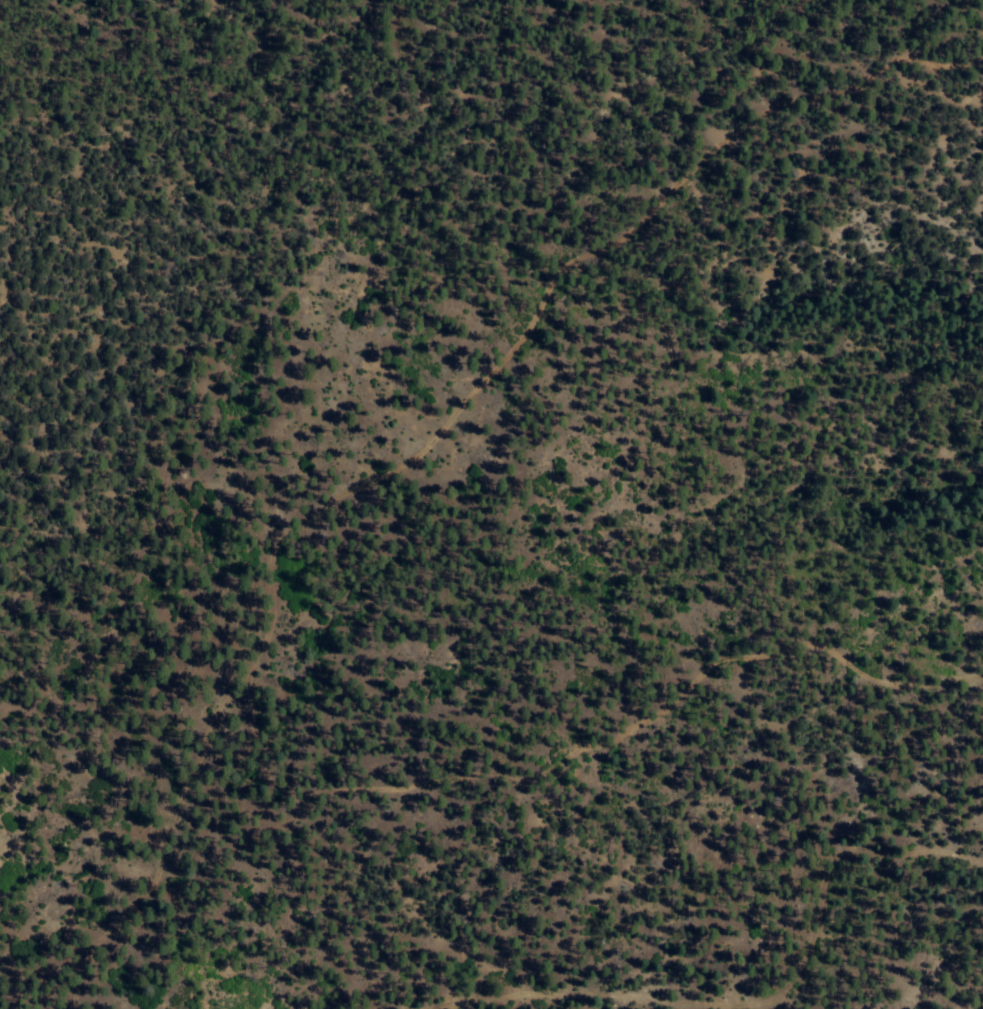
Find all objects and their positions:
road: (806, 945)

